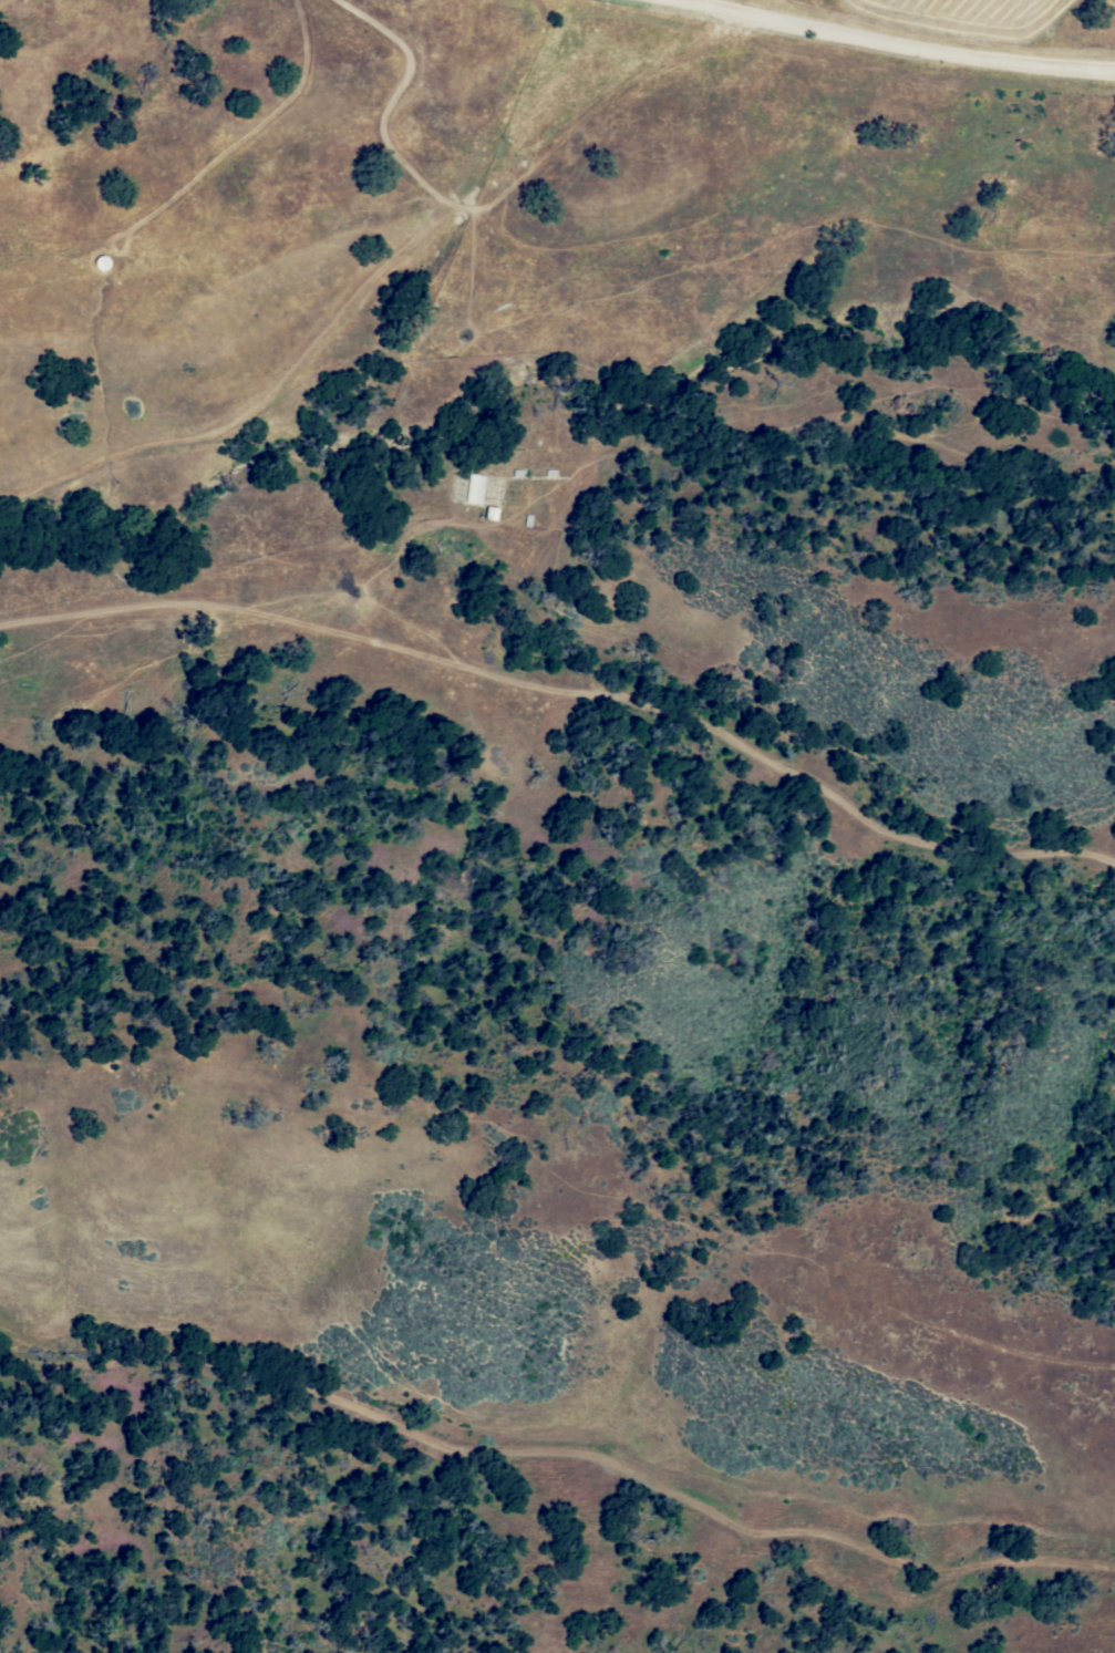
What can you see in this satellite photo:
road: (902, 44)
building: (474, 487)
building: (491, 512)
road: (569, 688)

